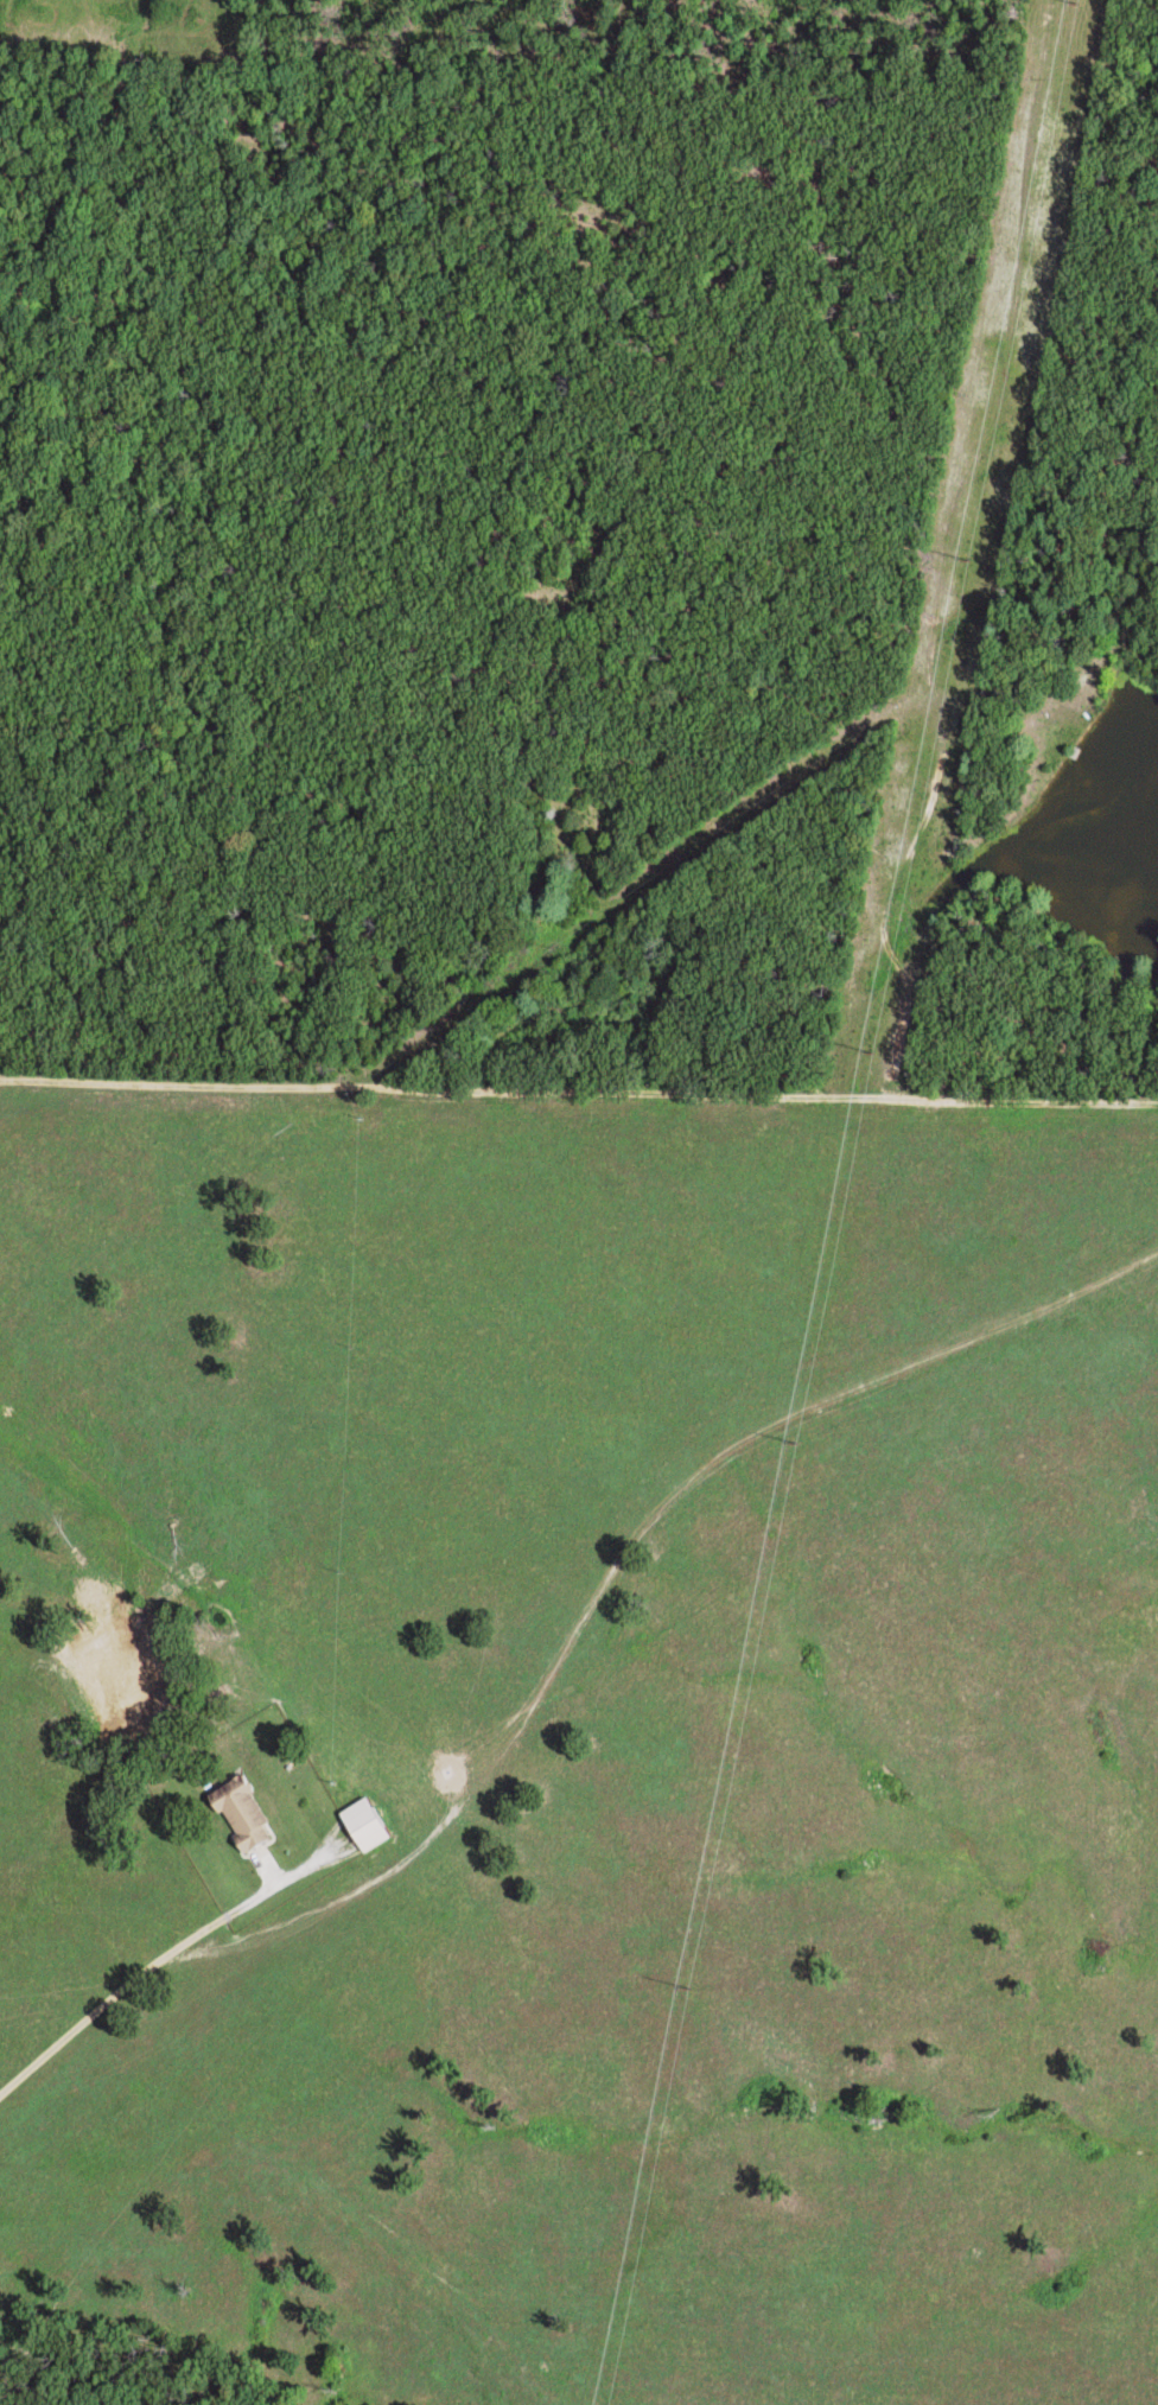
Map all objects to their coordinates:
power tower: (1074, 5)
power tower: (967, 565)
road: (607, 883)
power tower: (868, 1056)
power tower: (797, 1444)
building: (248, 1815)
building: (369, 1824)
power tower: (688, 1991)

